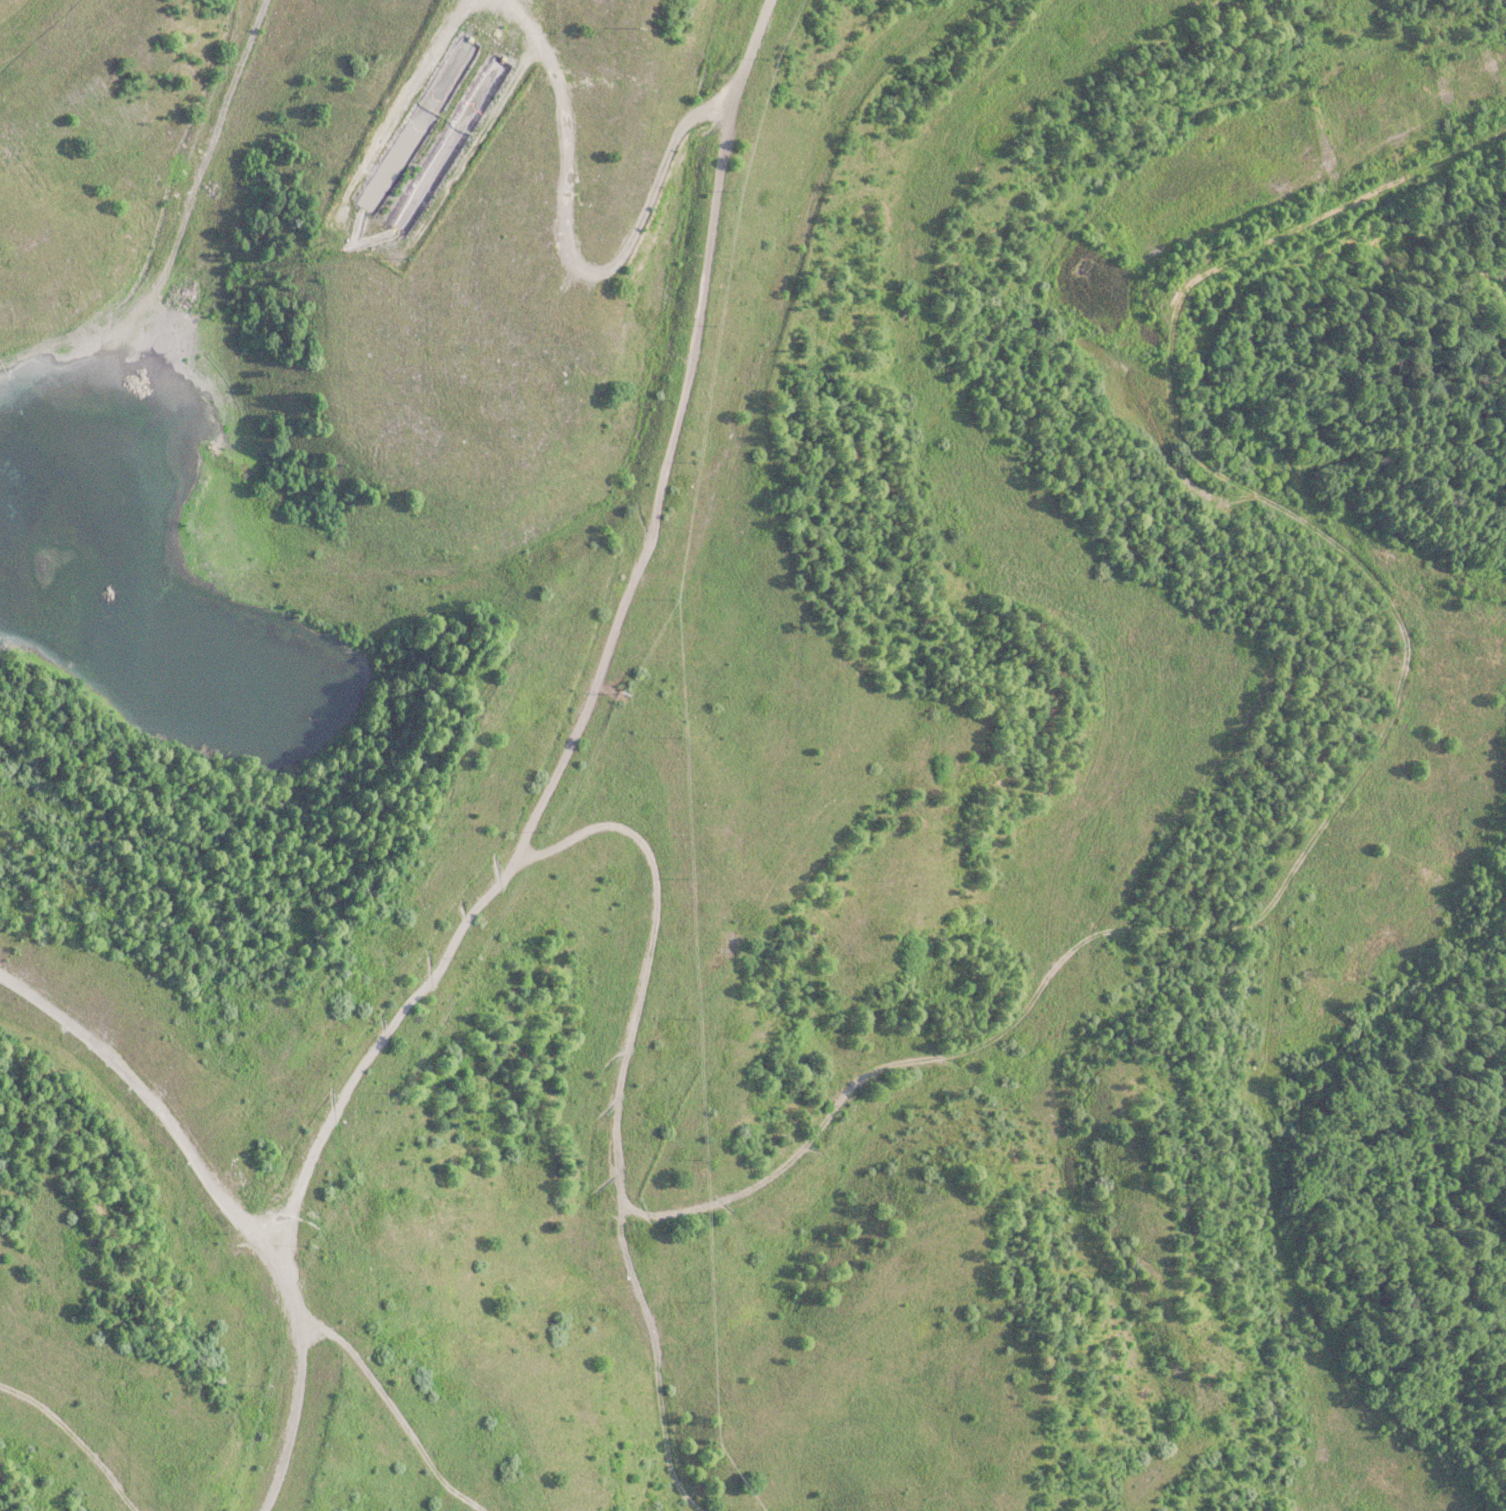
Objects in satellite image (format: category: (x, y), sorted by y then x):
quarry: (1431, 703)
quarry: (538, 757)

